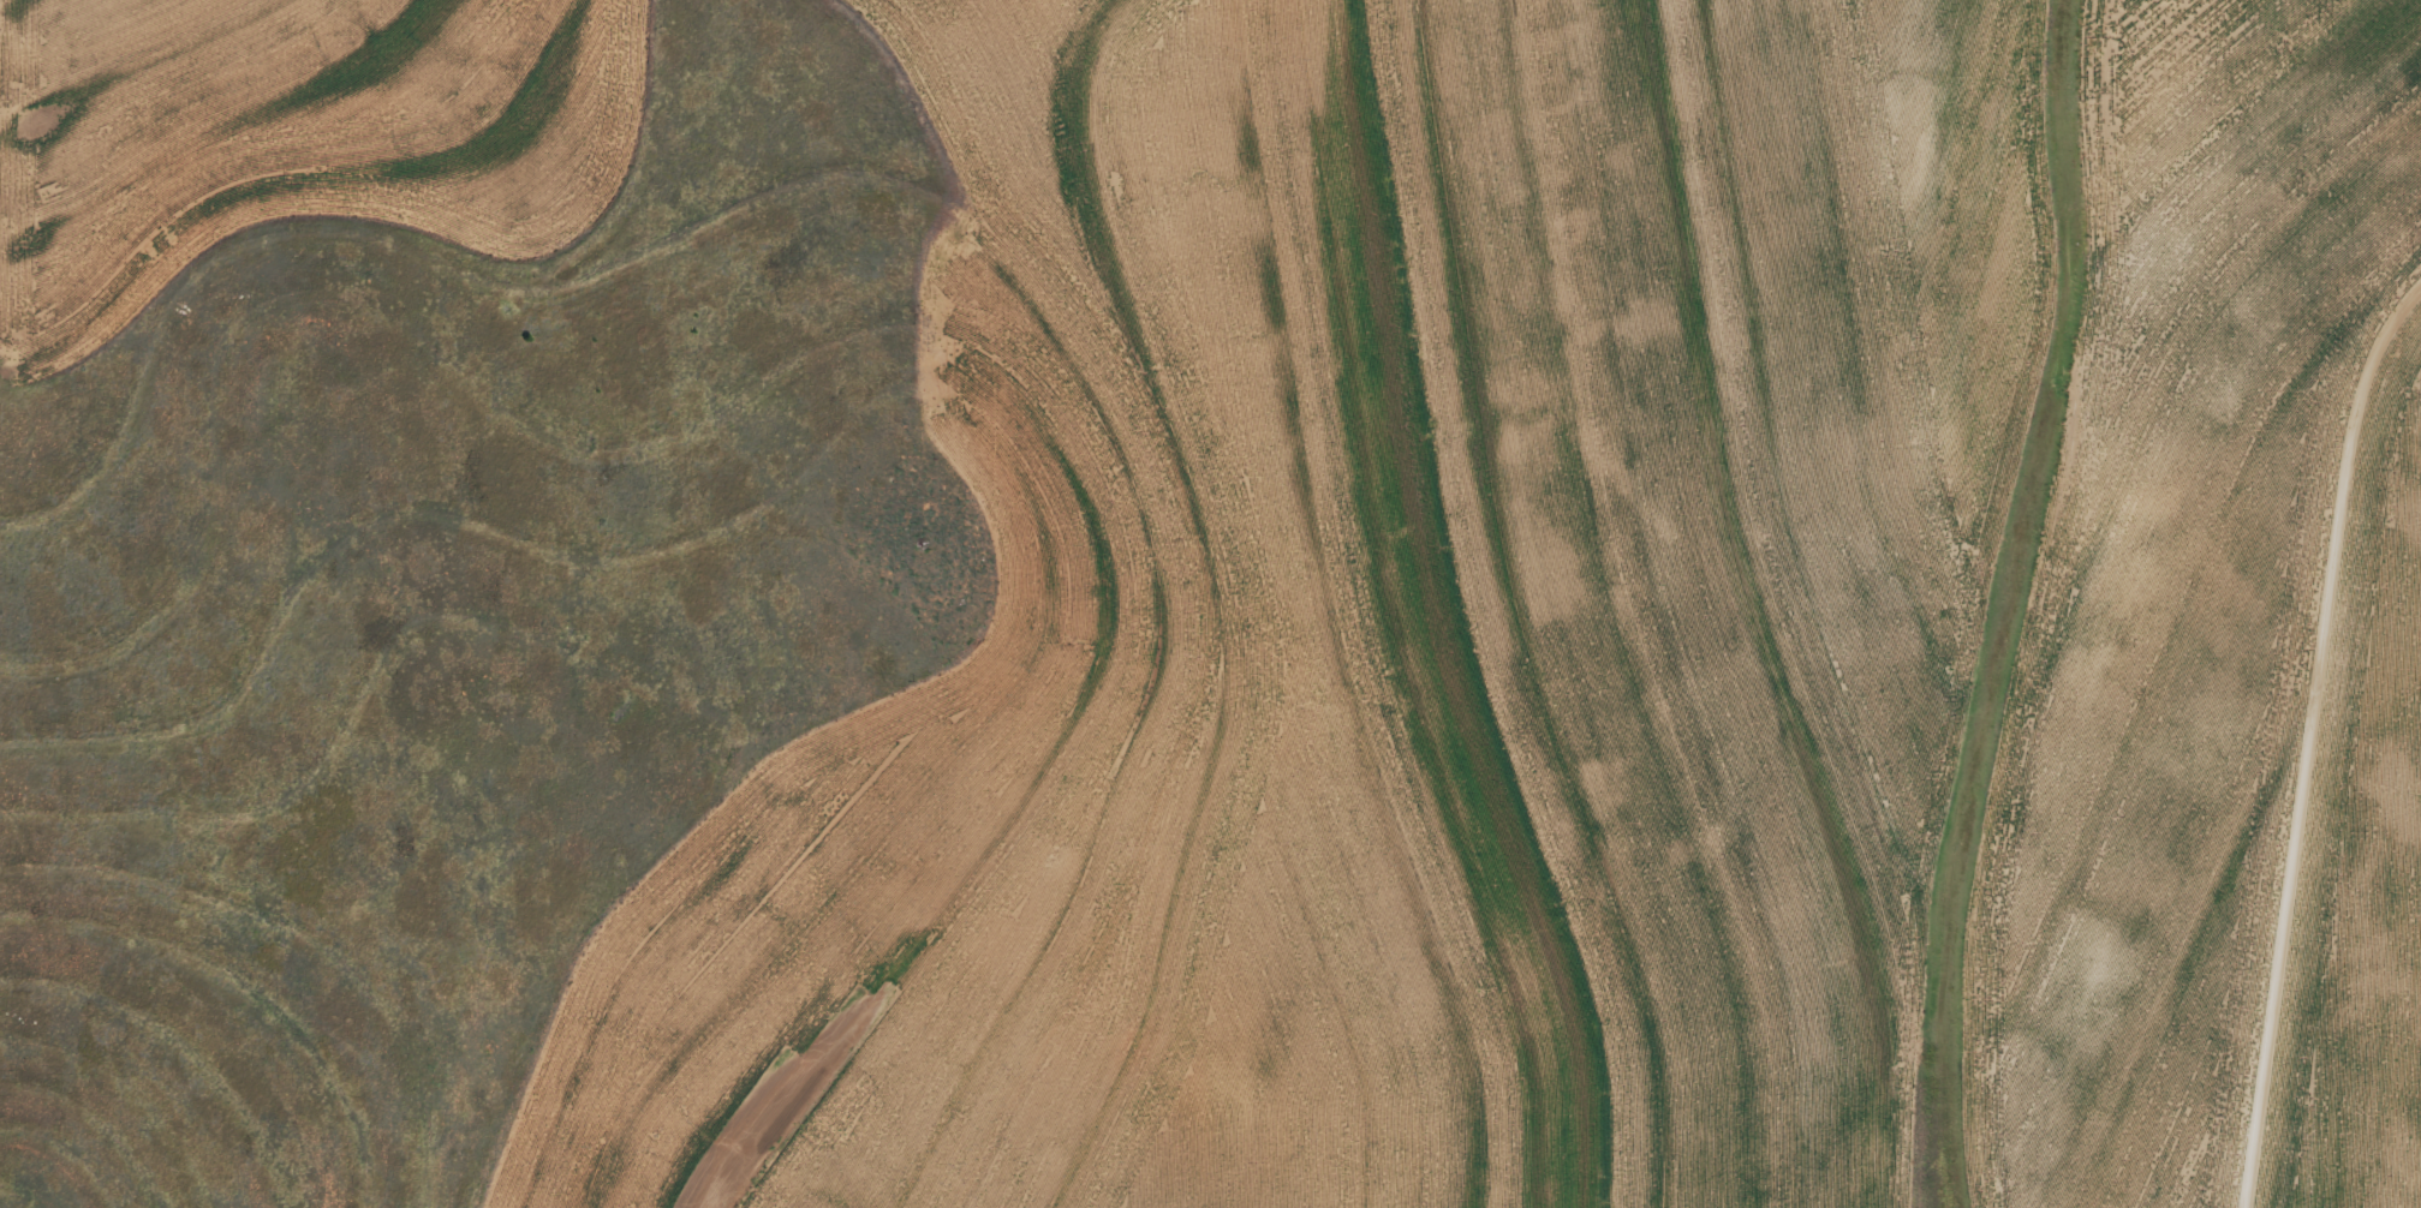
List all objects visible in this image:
road: (2306, 732)
airport: (2397, 986)

